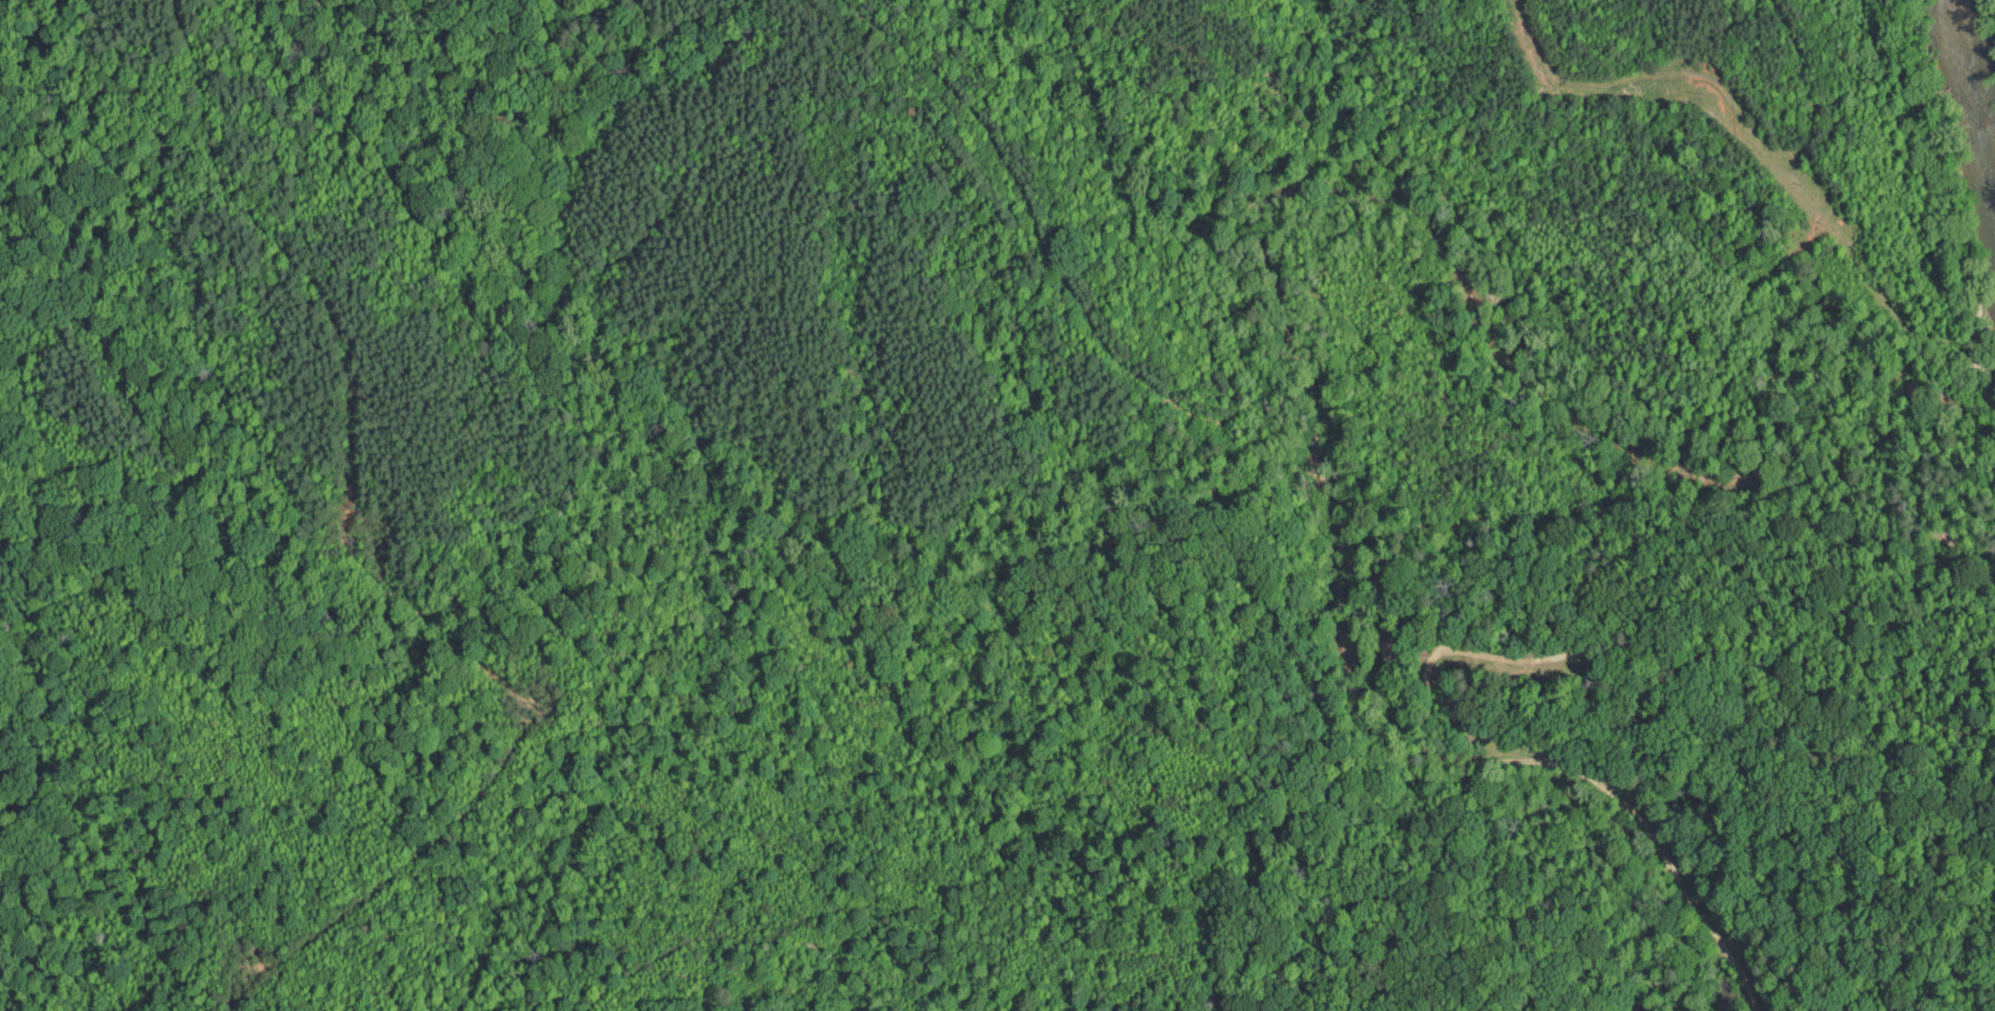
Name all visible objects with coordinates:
river: (1974, 80)
road: (1648, 815)

